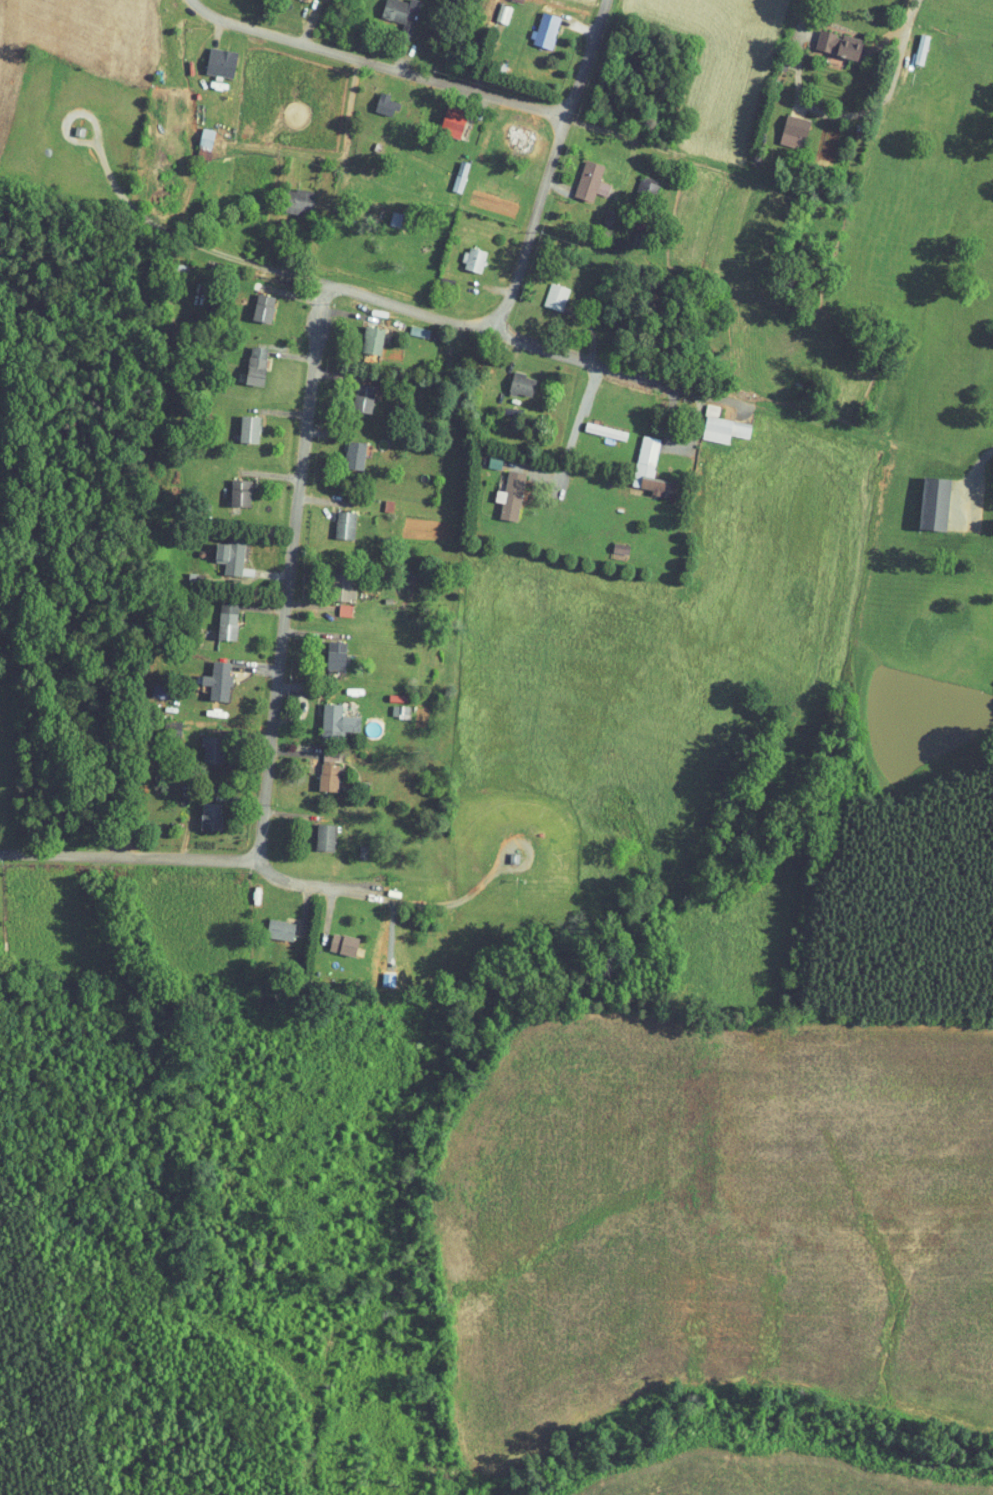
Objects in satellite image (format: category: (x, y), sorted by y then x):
road: (207, 9)
building: (391, 11)
building: (535, 24)
building: (828, 38)
road: (696, 40)
building: (910, 43)
building: (210, 56)
road: (583, 59)
road: (385, 67)
building: (375, 98)
road: (844, 114)
building: (442, 115)
building: (783, 126)
building: (195, 132)
building: (508, 132)
building: (450, 170)
building: (580, 176)
building: (636, 179)
building: (288, 195)
road: (532, 224)
building: (463, 253)
road: (338, 282)
building: (545, 291)
building: (253, 302)
building: (408, 325)
building: (362, 334)
road: (542, 346)
building: (246, 360)
building: (511, 379)
building: (352, 393)
road: (701, 401)
building: (711, 421)
building: (239, 423)
building: (595, 425)
road: (574, 431)
building: (344, 449)
building: (637, 460)
building: (230, 487)
building: (500, 490)
building: (924, 498)
building: (335, 519)
building: (610, 542)
building: (220, 551)
road: (298, 571)
building: (333, 582)
building: (334, 605)
building: (217, 616)
building: (326, 649)
building: (208, 675)
building: (327, 717)
building: (318, 766)
building: (200, 811)
building: (315, 832)
road: (135, 859)
road: (319, 884)
building: (270, 924)
building: (333, 939)

